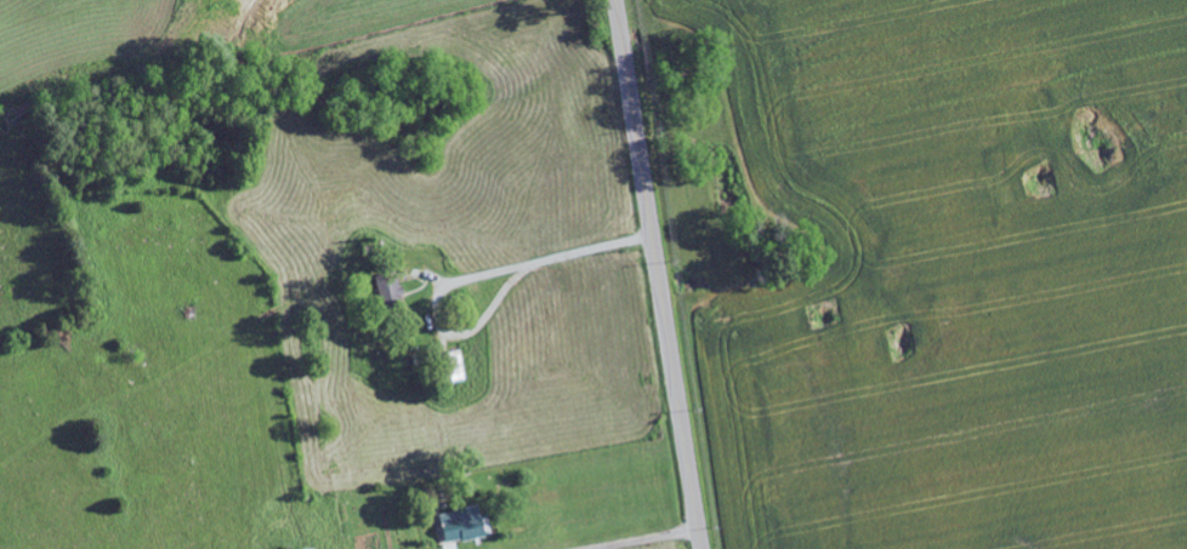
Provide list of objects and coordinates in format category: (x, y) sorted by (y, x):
road: (658, 274)
building: (390, 288)
building: (465, 525)

